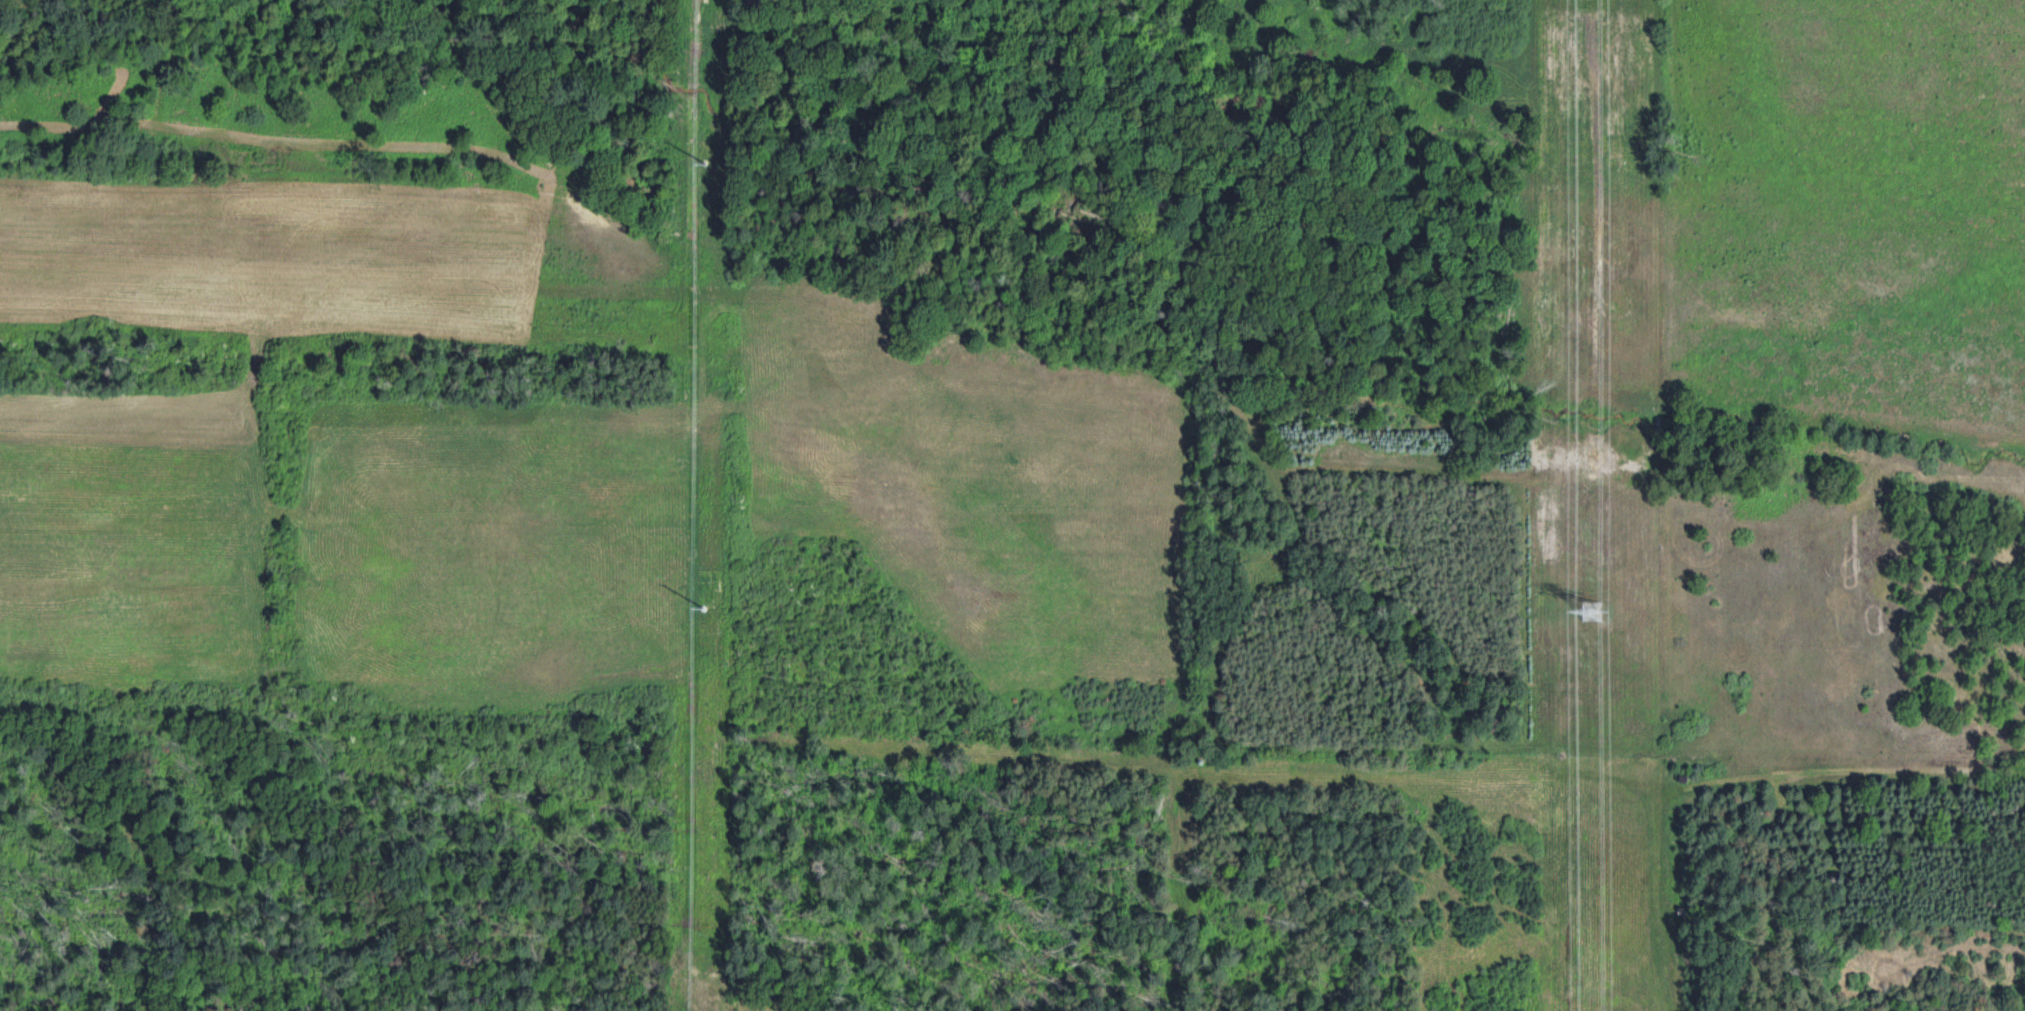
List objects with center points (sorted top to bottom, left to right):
power tower: (1593, 608)

